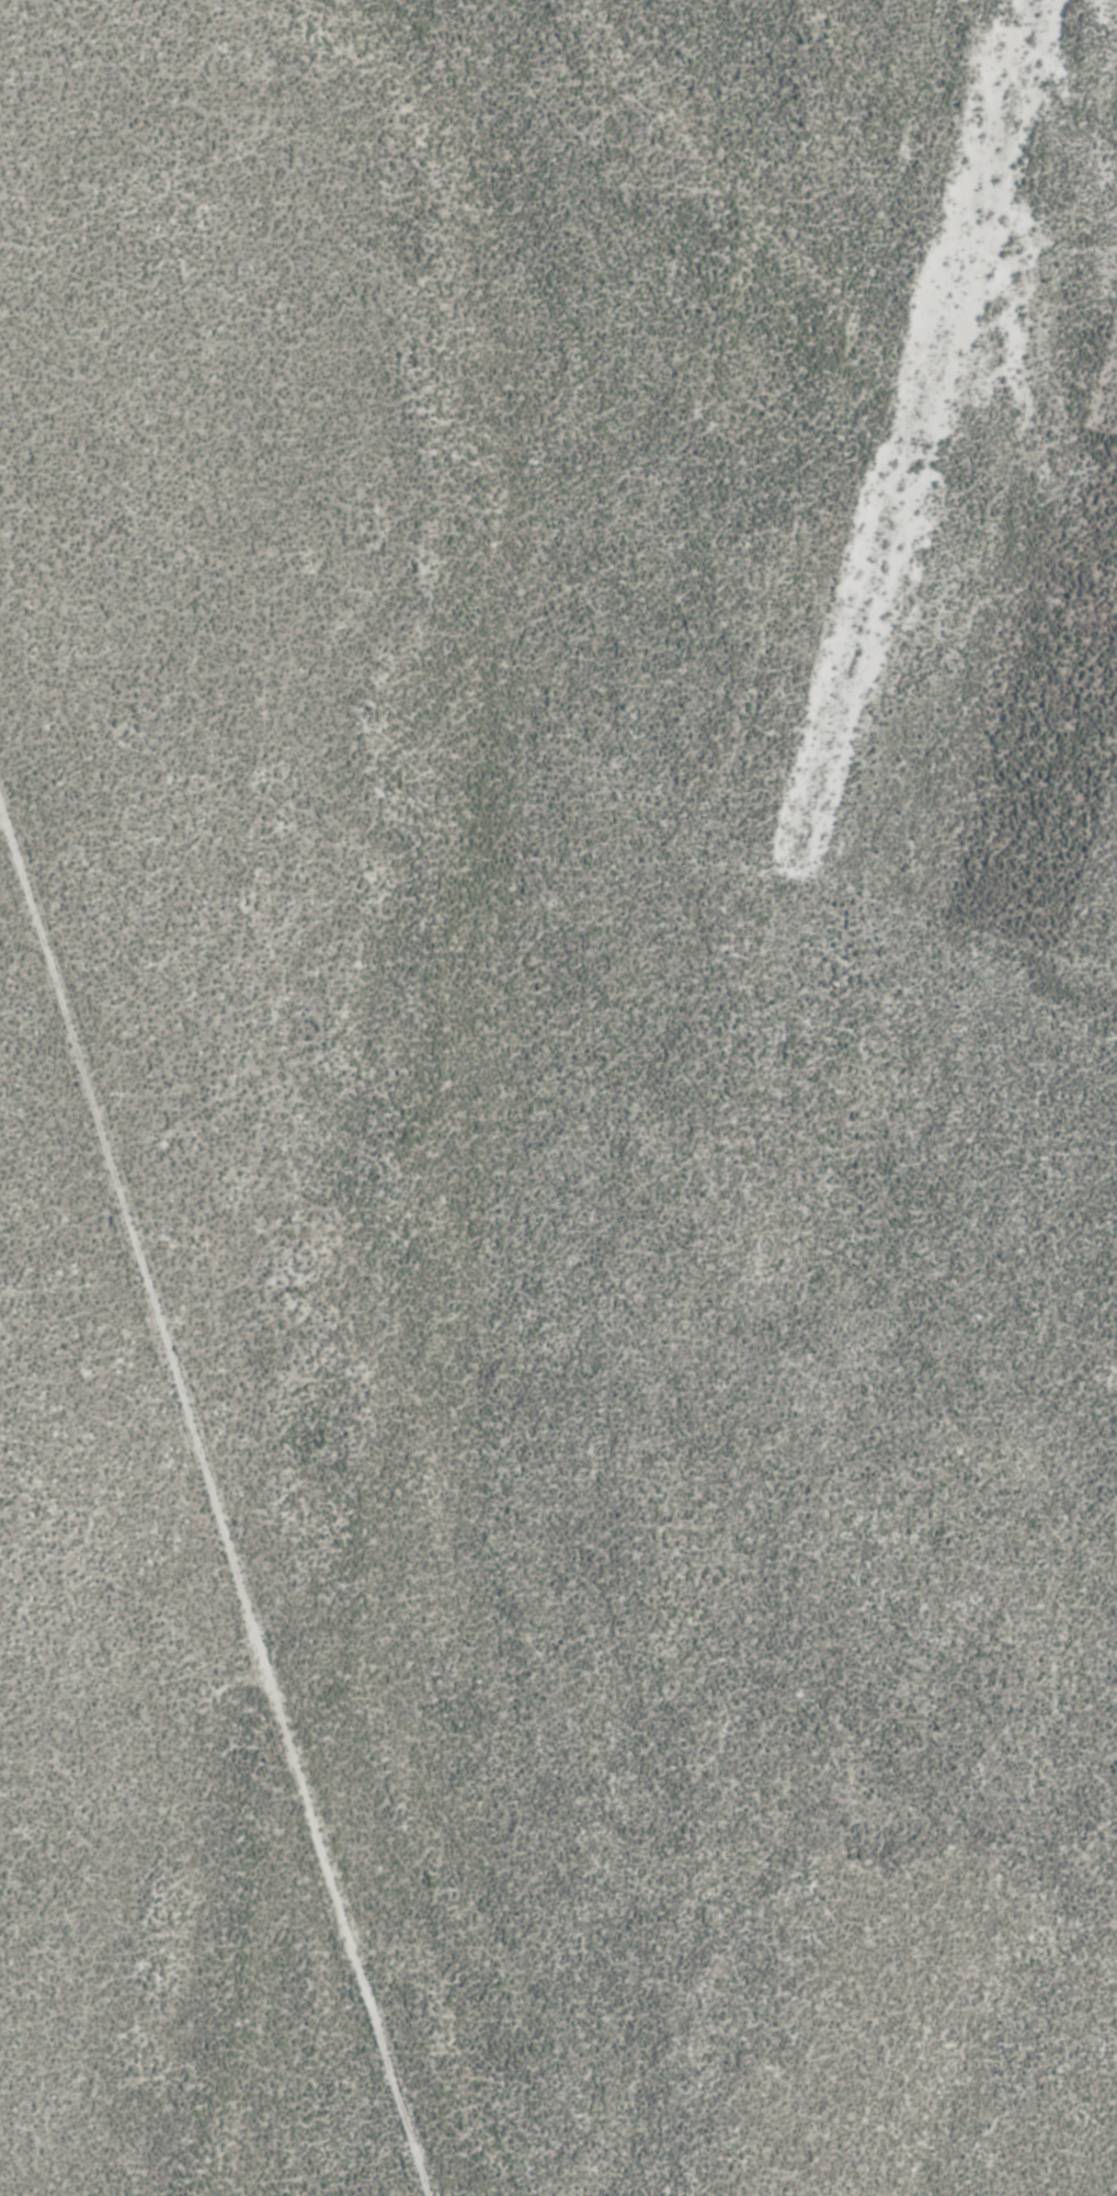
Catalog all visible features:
road: (214, 1499)

